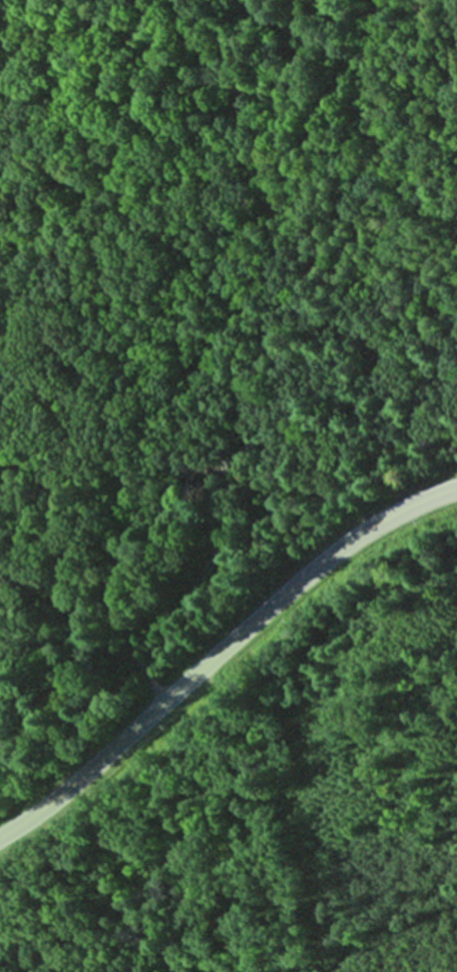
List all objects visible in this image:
road: (219, 648)

